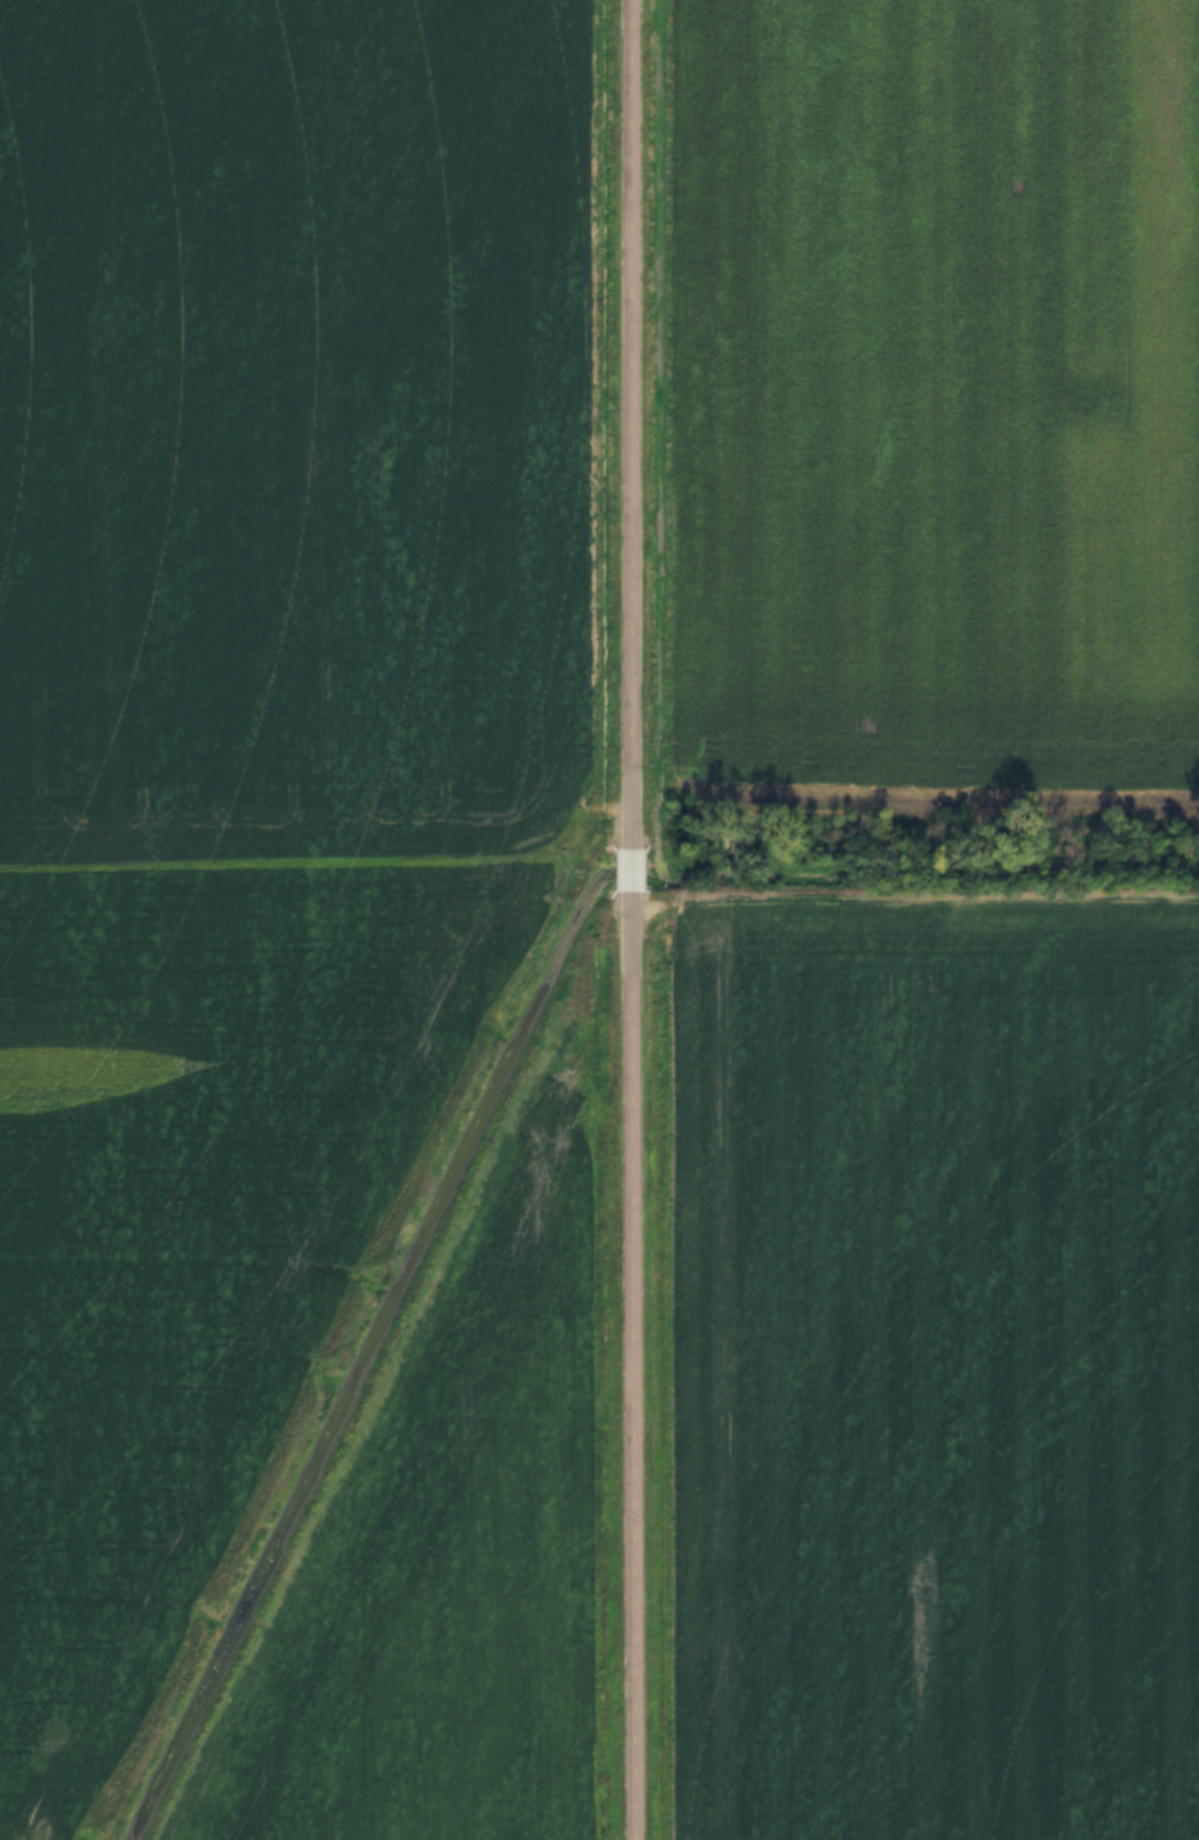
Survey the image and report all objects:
road: (631, 423)
road: (631, 868)
road: (631, 1365)
crop: (937, 1371)

